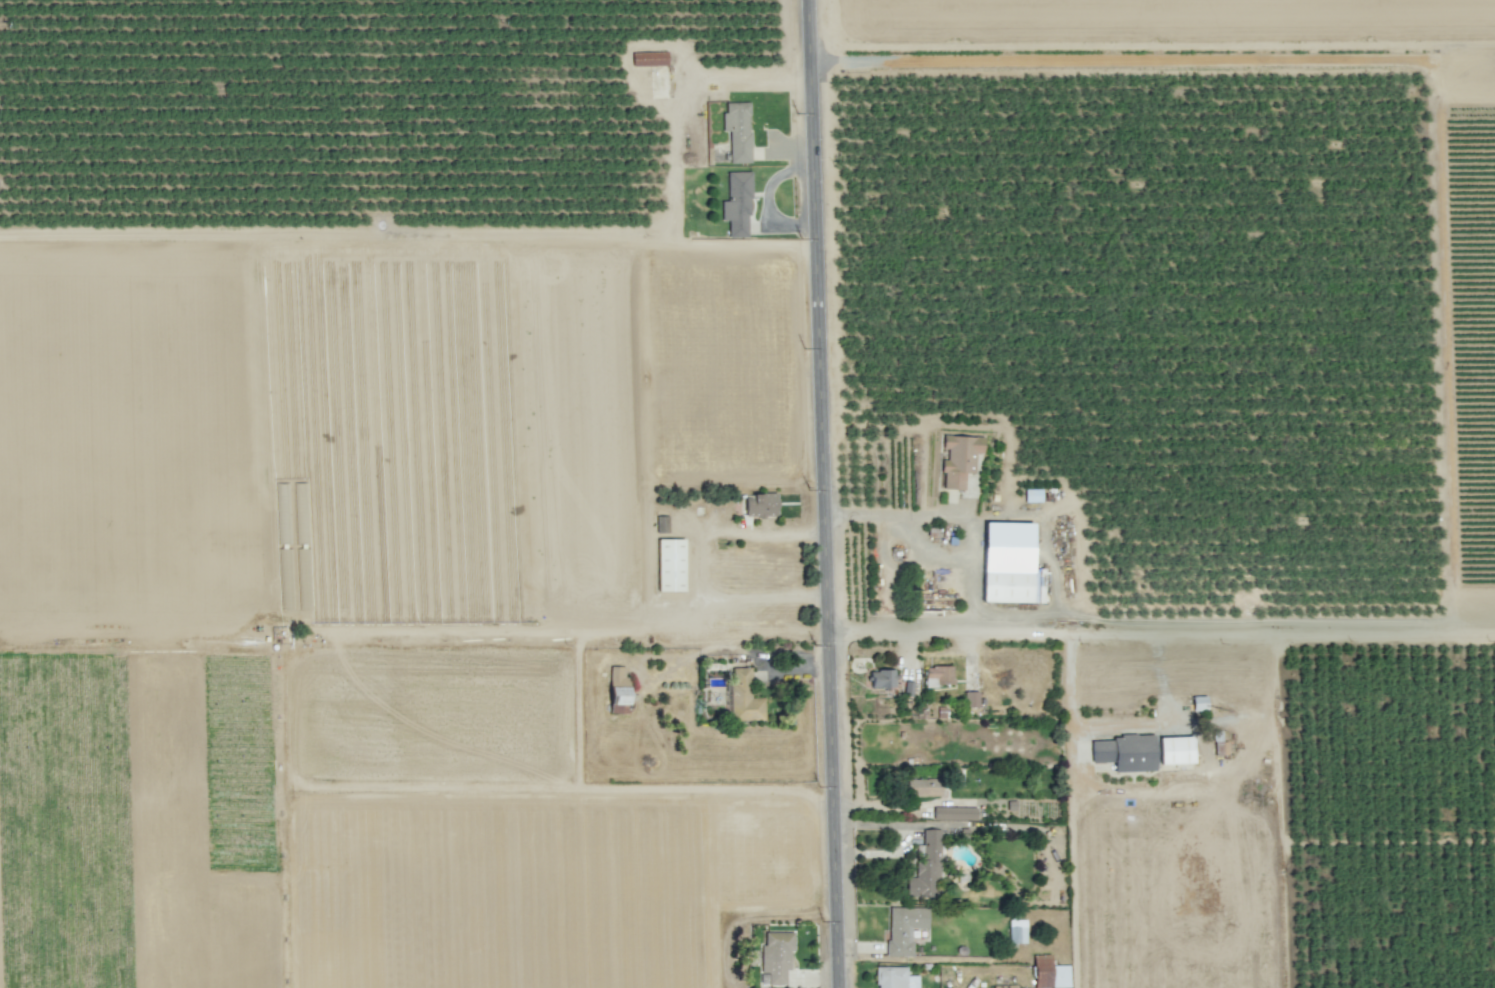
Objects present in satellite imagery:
building: (649, 58)
building: (737, 131)
road: (673, 174)
building: (737, 204)
building: (959, 459)
railway: (469, 494)
road: (825, 494)
road: (825, 494)
building: (1032, 495)
building: (760, 505)
road: (893, 515)
road: (1079, 536)
road: (1052, 560)
building: (1009, 564)
building: (670, 565)
road: (699, 567)
road: (968, 569)
road: (1162, 630)
building: (938, 675)
road: (1158, 675)
building: (881, 678)
building: (618, 690)
building: (744, 697)
building: (970, 699)
building: (1199, 703)
road: (1164, 719)
building: (1175, 750)
building: (1124, 752)
building: (923, 787)
building: (954, 813)
building: (925, 867)
building: (903, 929)
building: (1017, 931)
building: (775, 957)
building: (1049, 973)
building: (895, 978)

